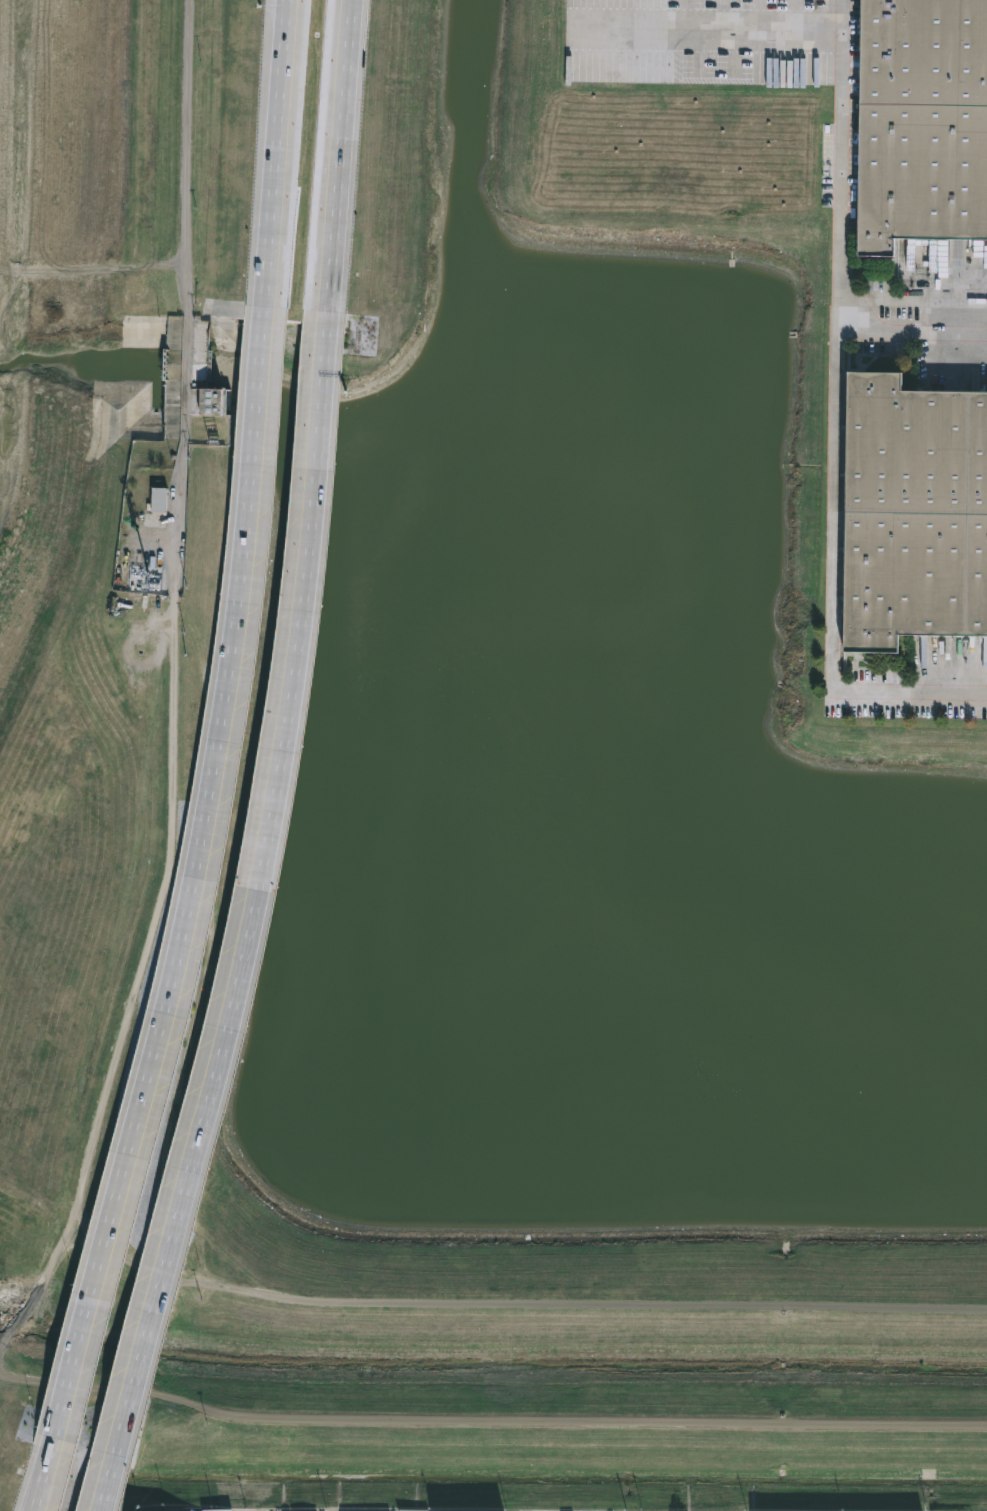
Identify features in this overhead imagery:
building: (924, 123)
road: (273, 159)
road: (338, 161)
road: (185, 171)
road: (911, 329)
road: (833, 422)
building: (161, 501)
building: (915, 514)
park: (103, 551)
road: (196, 885)
road: (256, 924)
road: (44, 1474)

